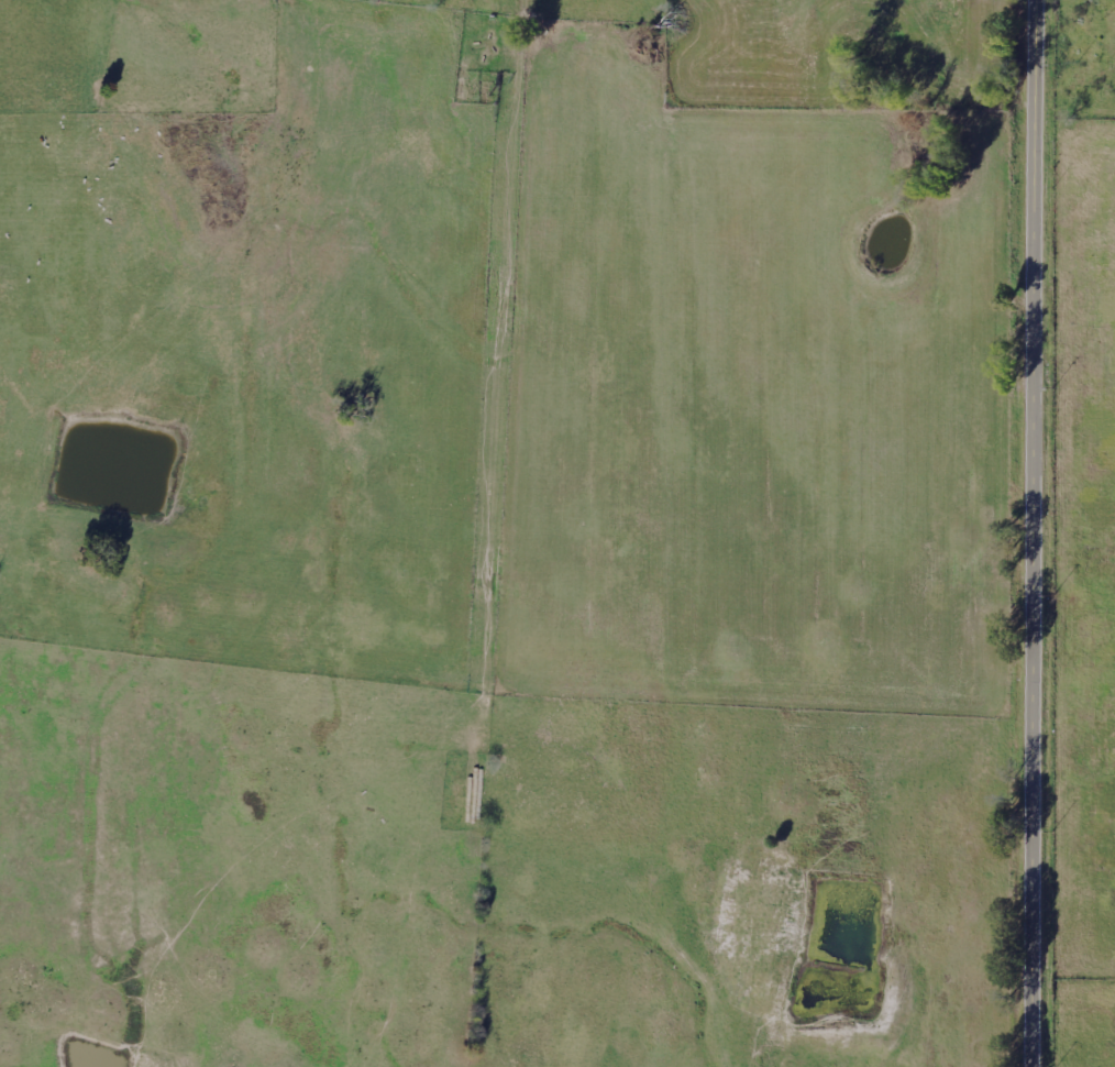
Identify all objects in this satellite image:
road: (1038, 533)

